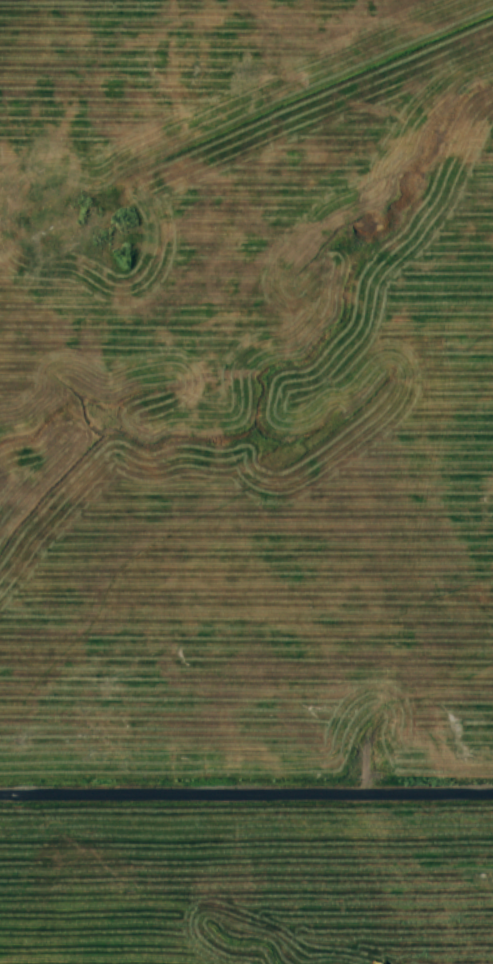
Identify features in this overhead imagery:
road: (246, 793)

